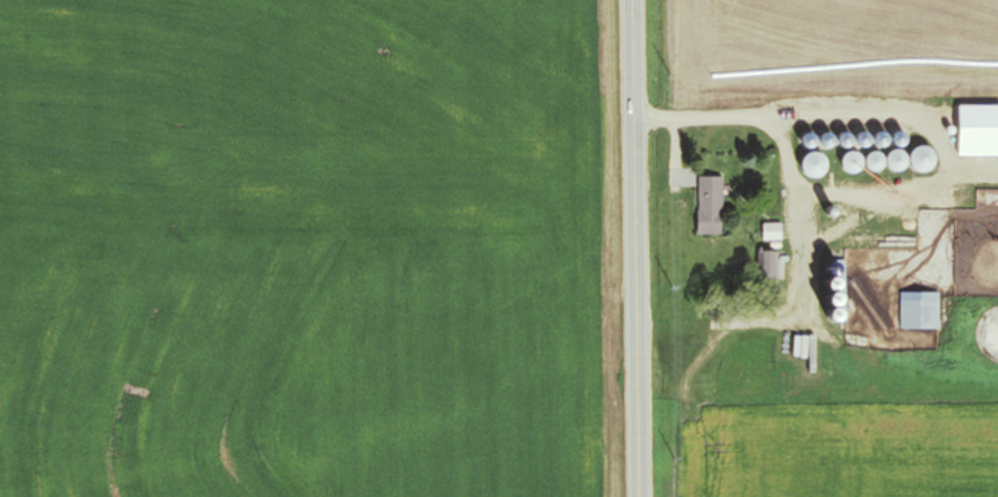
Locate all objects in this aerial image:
building: (978, 140)
building: (814, 165)
building: (709, 206)
road: (638, 248)
building: (785, 273)
building: (836, 291)
building: (920, 310)

